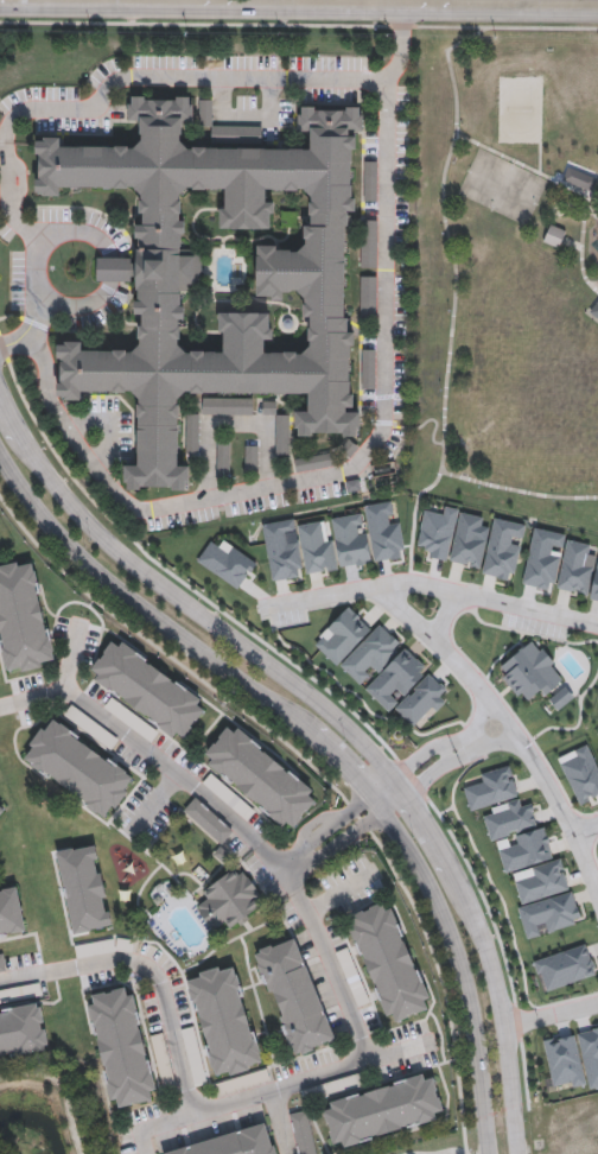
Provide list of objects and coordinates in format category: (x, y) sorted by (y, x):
road: (271, 0)
road: (383, 1)
road: (541, 28)
road: (401, 43)
road: (450, 69)
park: (519, 109)
road: (244, 116)
road: (597, 178)
building: (579, 179)
building: (371, 180)
road: (562, 184)
road: (386, 186)
park: (502, 186)
road: (75, 232)
building: (554, 236)
road: (572, 242)
building: (369, 243)
road: (581, 246)
park: (507, 268)
building: (325, 293)
building: (369, 299)
road: (77, 306)
road: (453, 319)
road: (17, 341)
building: (368, 369)
building: (228, 407)
road: (432, 419)
road: (231, 424)
building: (192, 433)
building: (282, 435)
building: (223, 458)
building: (250, 458)
building: (314, 462)
road: (433, 483)
building: (469, 541)
building: (314, 546)
building: (503, 550)
building: (227, 564)
building: (578, 571)
road: (432, 584)
road: (407, 613)
road: (444, 613)
building: (21, 616)
road: (71, 658)
building: (382, 667)
building: (530, 672)
building: (146, 689)
building: (560, 698)
road: (339, 721)
building: (91, 728)
road: (135, 743)
road: (445, 743)
road: (329, 750)
road: (457, 762)
building: (77, 767)
road: (537, 767)
building: (581, 774)
building: (259, 775)
building: (217, 788)
building: (490, 790)
road: (386, 791)
road: (159, 800)
building: (1, 807)
building: (209, 820)
building: (510, 820)
road: (585, 826)
road: (316, 842)
building: (524, 851)
road: (268, 856)
building: (84, 888)
building: (228, 900)
building: (546, 901)
building: (11, 911)
building: (389, 960)
building: (2, 963)
building: (565, 968)
building: (352, 976)
building: (294, 996)
road: (552, 1013)
building: (224, 1021)
building: (21, 1029)
building: (121, 1047)
road: (399, 1051)
building: (195, 1057)
building: (343, 1085)
road: (63, 1088)
road: (222, 1107)
building: (383, 1110)
road: (157, 1129)
building: (303, 1133)
building: (234, 1142)
road: (444, 1152)

